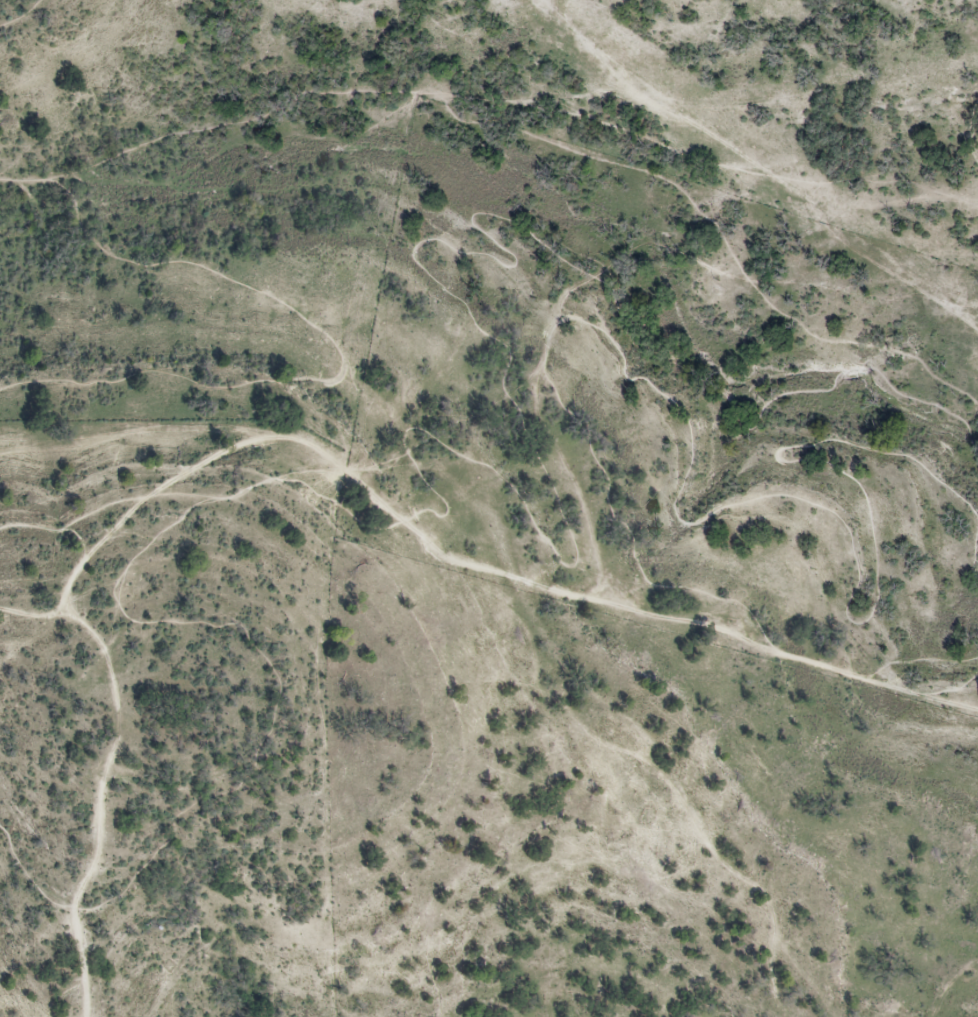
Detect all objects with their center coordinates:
road: (21, 16)
road: (967, 130)
road: (737, 156)
road: (28, 181)
road: (447, 243)
road: (342, 364)
road: (300, 439)
road: (617, 516)
road: (62, 528)
road: (847, 611)
road: (46, 615)
road: (194, 622)
road: (875, 674)
road: (25, 874)

